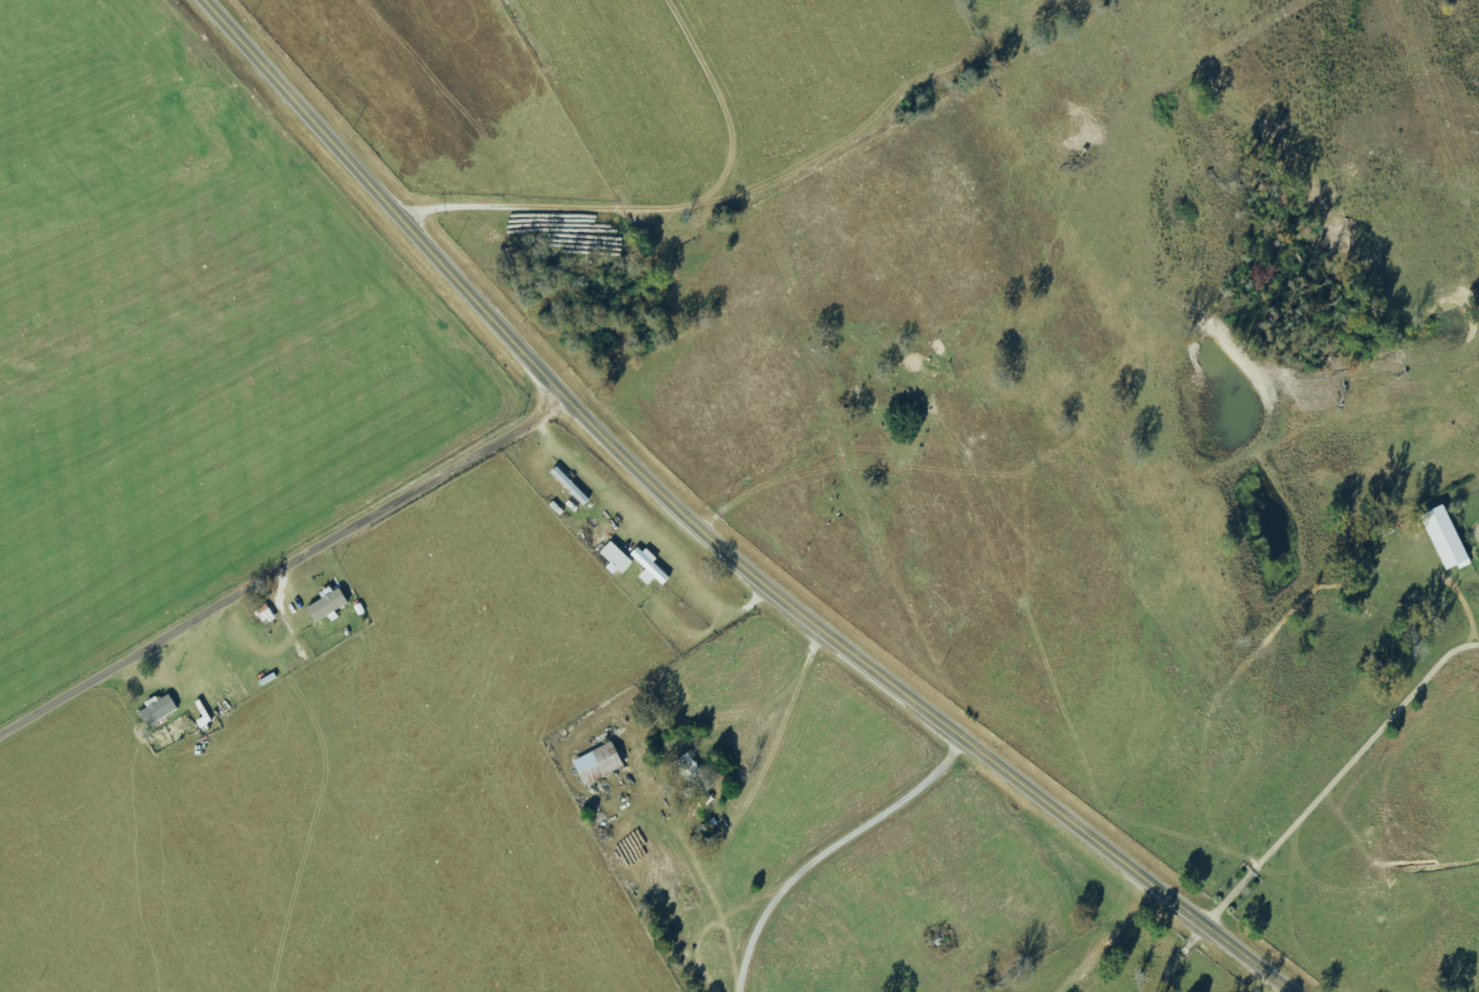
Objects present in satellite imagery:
road: (704, 174)
road: (708, 536)
building: (1442, 539)
building: (613, 559)
road: (282, 567)
building: (647, 568)
building: (325, 604)
building: (264, 615)
building: (156, 710)
building: (200, 715)
building: (595, 764)
building: (692, 782)

